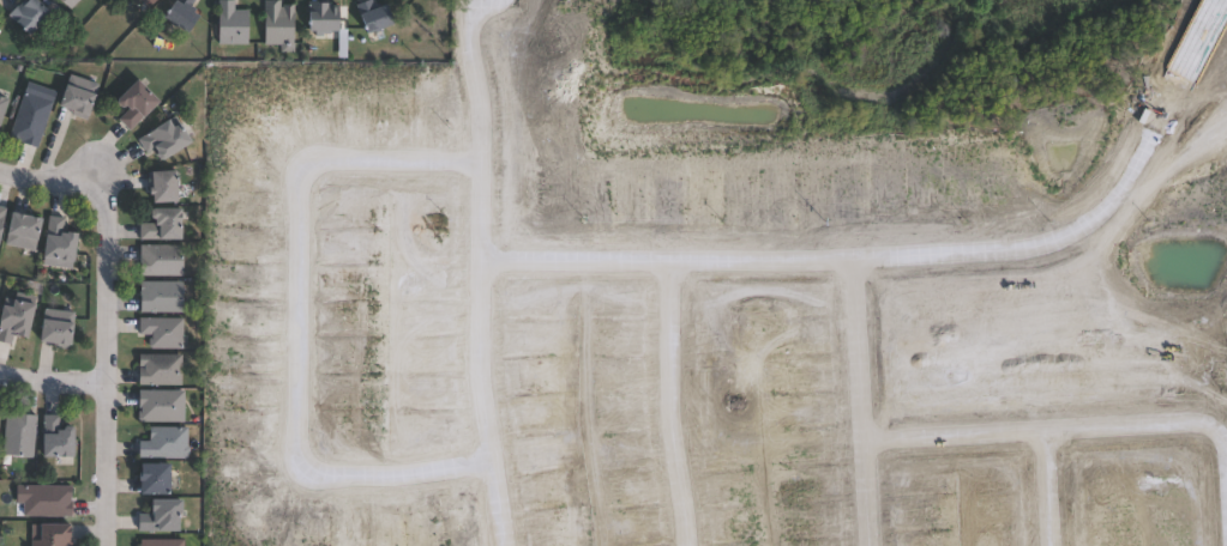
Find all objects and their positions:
building: (61, 2)
building: (139, 2)
building: (145, 2)
building: (175, 13)
building: (24, 16)
building: (315, 16)
building: (367, 16)
building: (228, 23)
building: (273, 25)
road: (1195, 54)
building: (72, 95)
building: (128, 103)
building: (1, 107)
building: (24, 119)
building: (158, 138)
building: (156, 186)
building: (0, 210)
building: (156, 224)
building: (16, 231)
building: (52, 244)
building: (156, 260)
road: (856, 261)
road: (479, 271)
building: (156, 297)
building: (12, 316)
road: (103, 322)
building: (50, 328)
road: (293, 328)
building: (158, 332)
building: (155, 370)
building: (243, 375)
building: (395, 377)
road: (50, 390)
road: (854, 404)
building: (157, 406)
building: (468, 407)
road: (666, 407)
road: (1089, 431)
building: (14, 435)
building: (49, 438)
building: (161, 444)
building: (148, 480)
road: (1042, 490)
building: (42, 502)
building: (155, 516)
building: (43, 535)
building: (156, 542)

